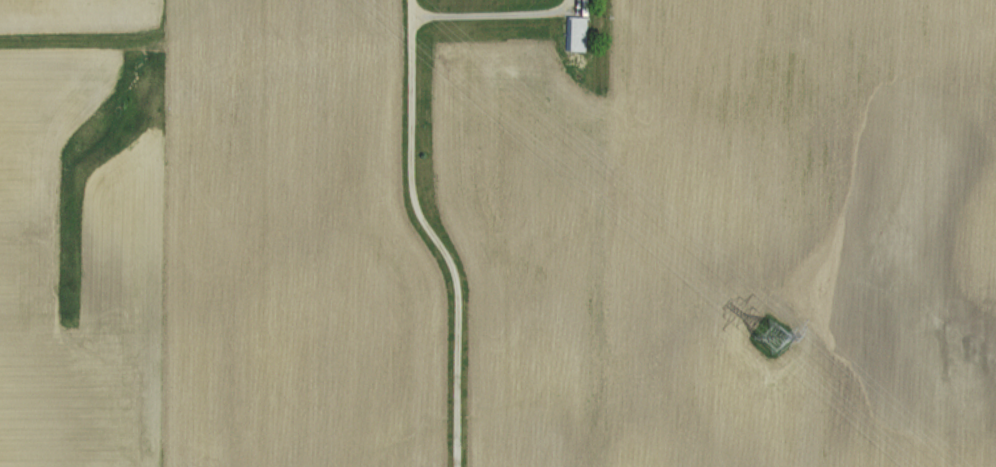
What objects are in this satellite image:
road: (413, 10)
building: (580, 33)
building: (577, 67)
road: (410, 168)
power tower: (775, 338)

